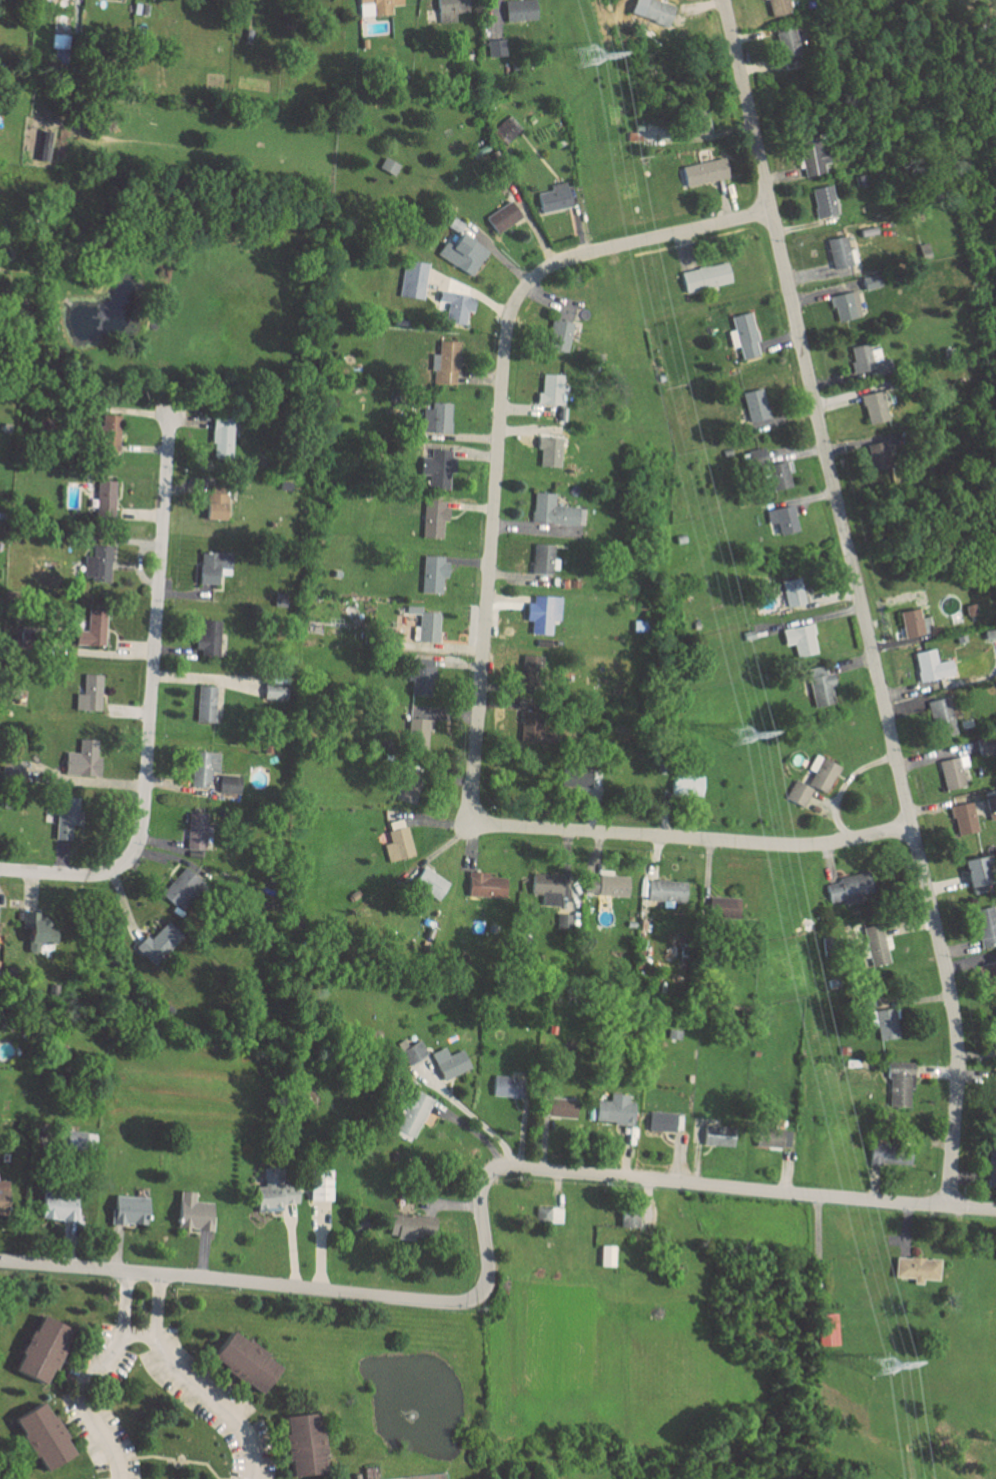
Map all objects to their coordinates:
building: (376, 6)
building: (777, 7)
building: (449, 9)
building: (518, 9)
building: (655, 11)
building: (495, 47)
building: (787, 47)
power tower: (585, 54)
building: (696, 120)
building: (508, 126)
building: (42, 144)
building: (810, 156)
building: (387, 165)
building: (703, 171)
building: (553, 197)
building: (822, 200)
building: (502, 216)
building: (839, 252)
building: (462, 253)
building: (704, 276)
building: (412, 279)
building: (870, 282)
building: (845, 305)
building: (455, 306)
building: (564, 315)
building: (558, 335)
building: (745, 335)
building: (866, 358)
building: (445, 362)
building: (549, 389)
building: (754, 404)
building: (873, 407)
building: (438, 417)
building: (111, 432)
building: (220, 437)
building: (549, 451)
building: (876, 455)
building: (437, 467)
building: (779, 475)
building: (105, 497)
building: (215, 505)
building: (553, 511)
building: (433, 517)
building: (780, 520)
building: (542, 558)
building: (97, 561)
building: (212, 566)
building: (432, 573)
building: (791, 592)
road: (859, 600)
building: (541, 613)
building: (912, 623)
building: (428, 627)
building: (989, 634)
building: (207, 638)
building: (798, 639)
road: (482, 643)
building: (930, 665)
building: (529, 668)
building: (421, 680)
building: (819, 686)
building: (273, 691)
building: (89, 693)
road: (149, 700)
building: (205, 704)
building: (941, 717)
building: (417, 733)
power tower: (738, 735)
building: (984, 745)
building: (82, 759)
building: (203, 768)
building: (9, 770)
building: (951, 772)
building: (580, 777)
building: (812, 781)
building: (228, 784)
building: (685, 785)
building: (407, 786)
building: (65, 816)
building: (962, 818)
building: (195, 830)
building: (397, 844)
building: (975, 871)
building: (429, 883)
building: (484, 885)
building: (605, 885)
building: (181, 888)
building: (848, 888)
building: (546, 889)
building: (665, 891)
building: (985, 926)
building: (36, 931)
building: (156, 943)
building: (876, 945)
building: (885, 1023)
building: (995, 1028)
building: (451, 1065)
building: (899, 1084)
building: (506, 1086)
building: (994, 1086)
building: (560, 1107)
building: (614, 1109)
building: (412, 1114)
road: (477, 1120)
building: (664, 1121)
building: (717, 1136)
building: (772, 1138)
building: (78, 1140)
building: (889, 1154)
building: (990, 1166)
building: (319, 1185)
building: (272, 1192)
building: (2, 1197)
building: (56, 1207)
building: (128, 1210)
building: (192, 1213)
building: (629, 1214)
building: (542, 1215)
road: (482, 1221)
building: (410, 1226)
road: (976, 1229)
building: (606, 1256)
building: (916, 1269)
building: (826, 1329)
road: (138, 1331)
building: (40, 1348)
building: (243, 1360)
power tower: (881, 1366)
road: (94, 1377)
road: (197, 1379)
building: (41, 1434)
building: (302, 1442)
road: (192, 1460)
park: (427, 1476)
building: (371, 1478)

